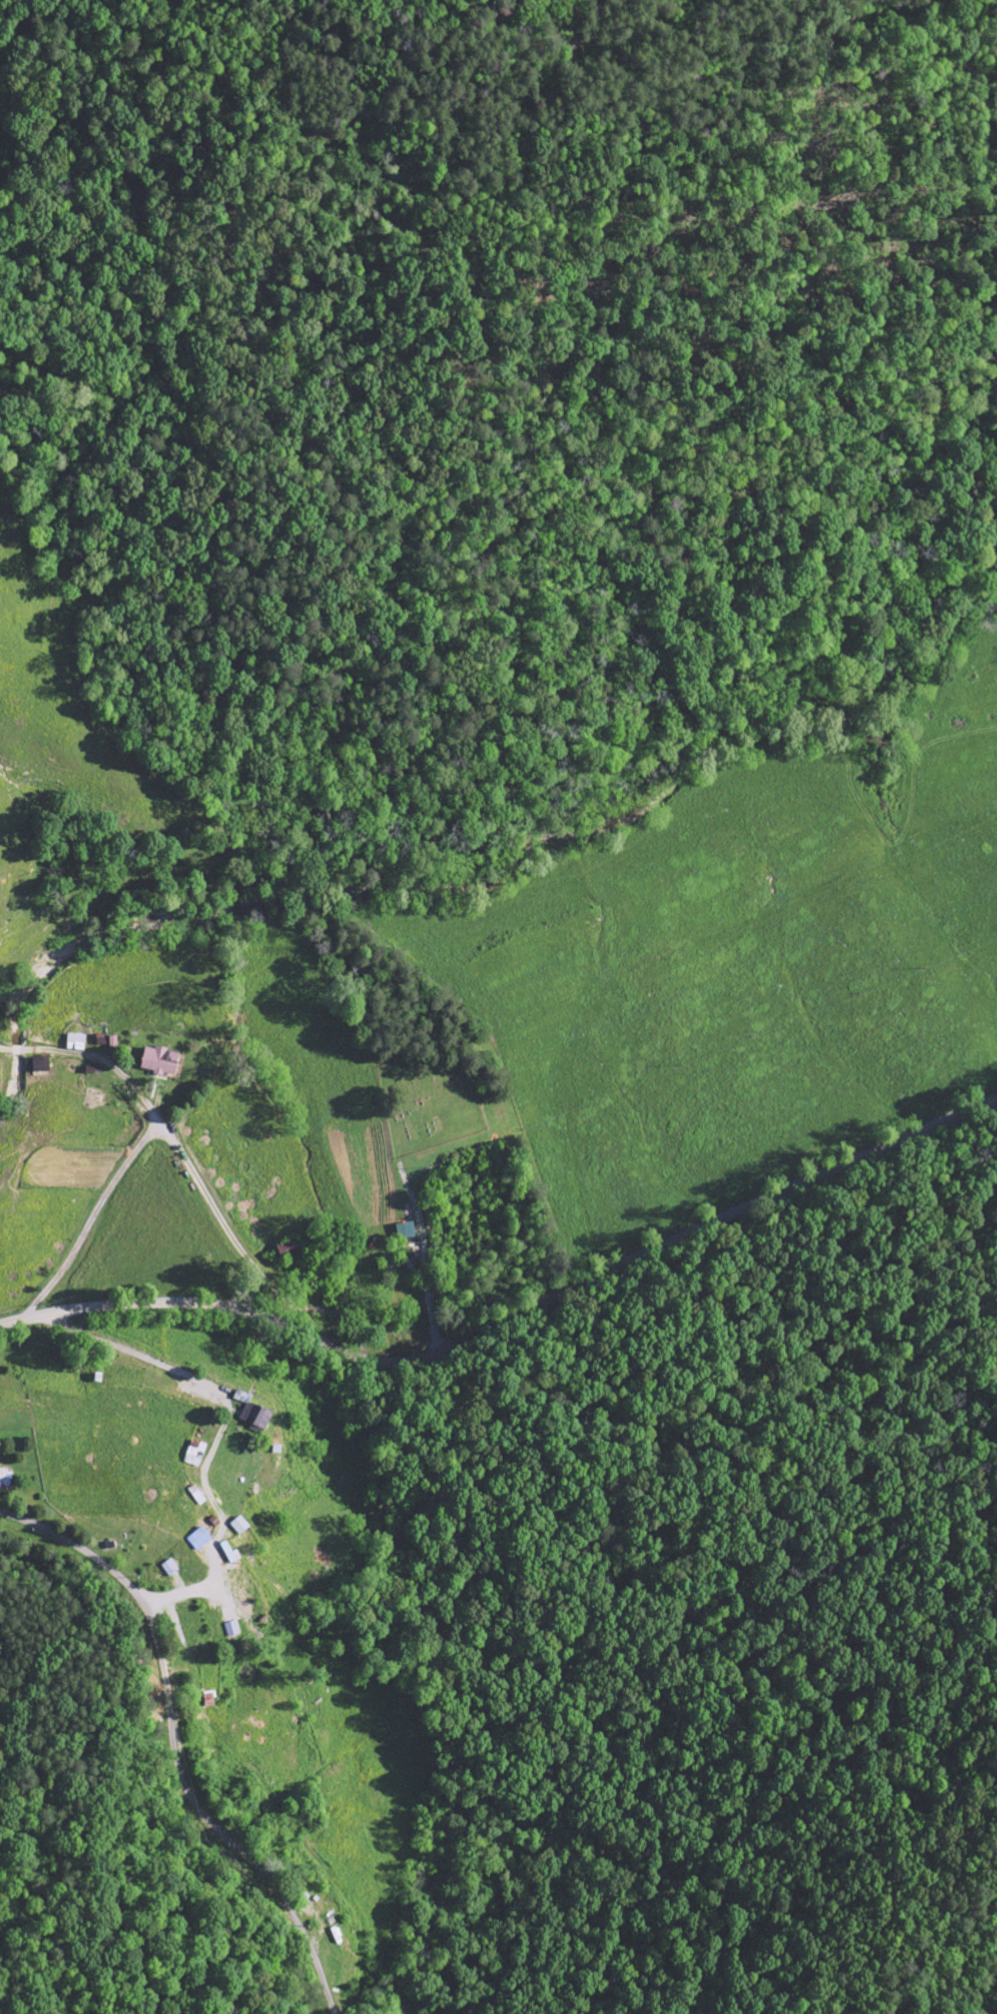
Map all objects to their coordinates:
building: (101, 1037)
building: (75, 1040)
road: (5, 1047)
road: (16, 1048)
road: (104, 1060)
building: (159, 1060)
road: (205, 1194)
road: (91, 1221)
building: (405, 1229)
building: (288, 1247)
road: (423, 1260)
road: (510, 1318)
building: (250, 1410)
building: (194, 1452)
building: (198, 1538)
building: (227, 1551)
building: (168, 1566)
building: (240, 1592)
building: (230, 1628)
road: (174, 1746)

